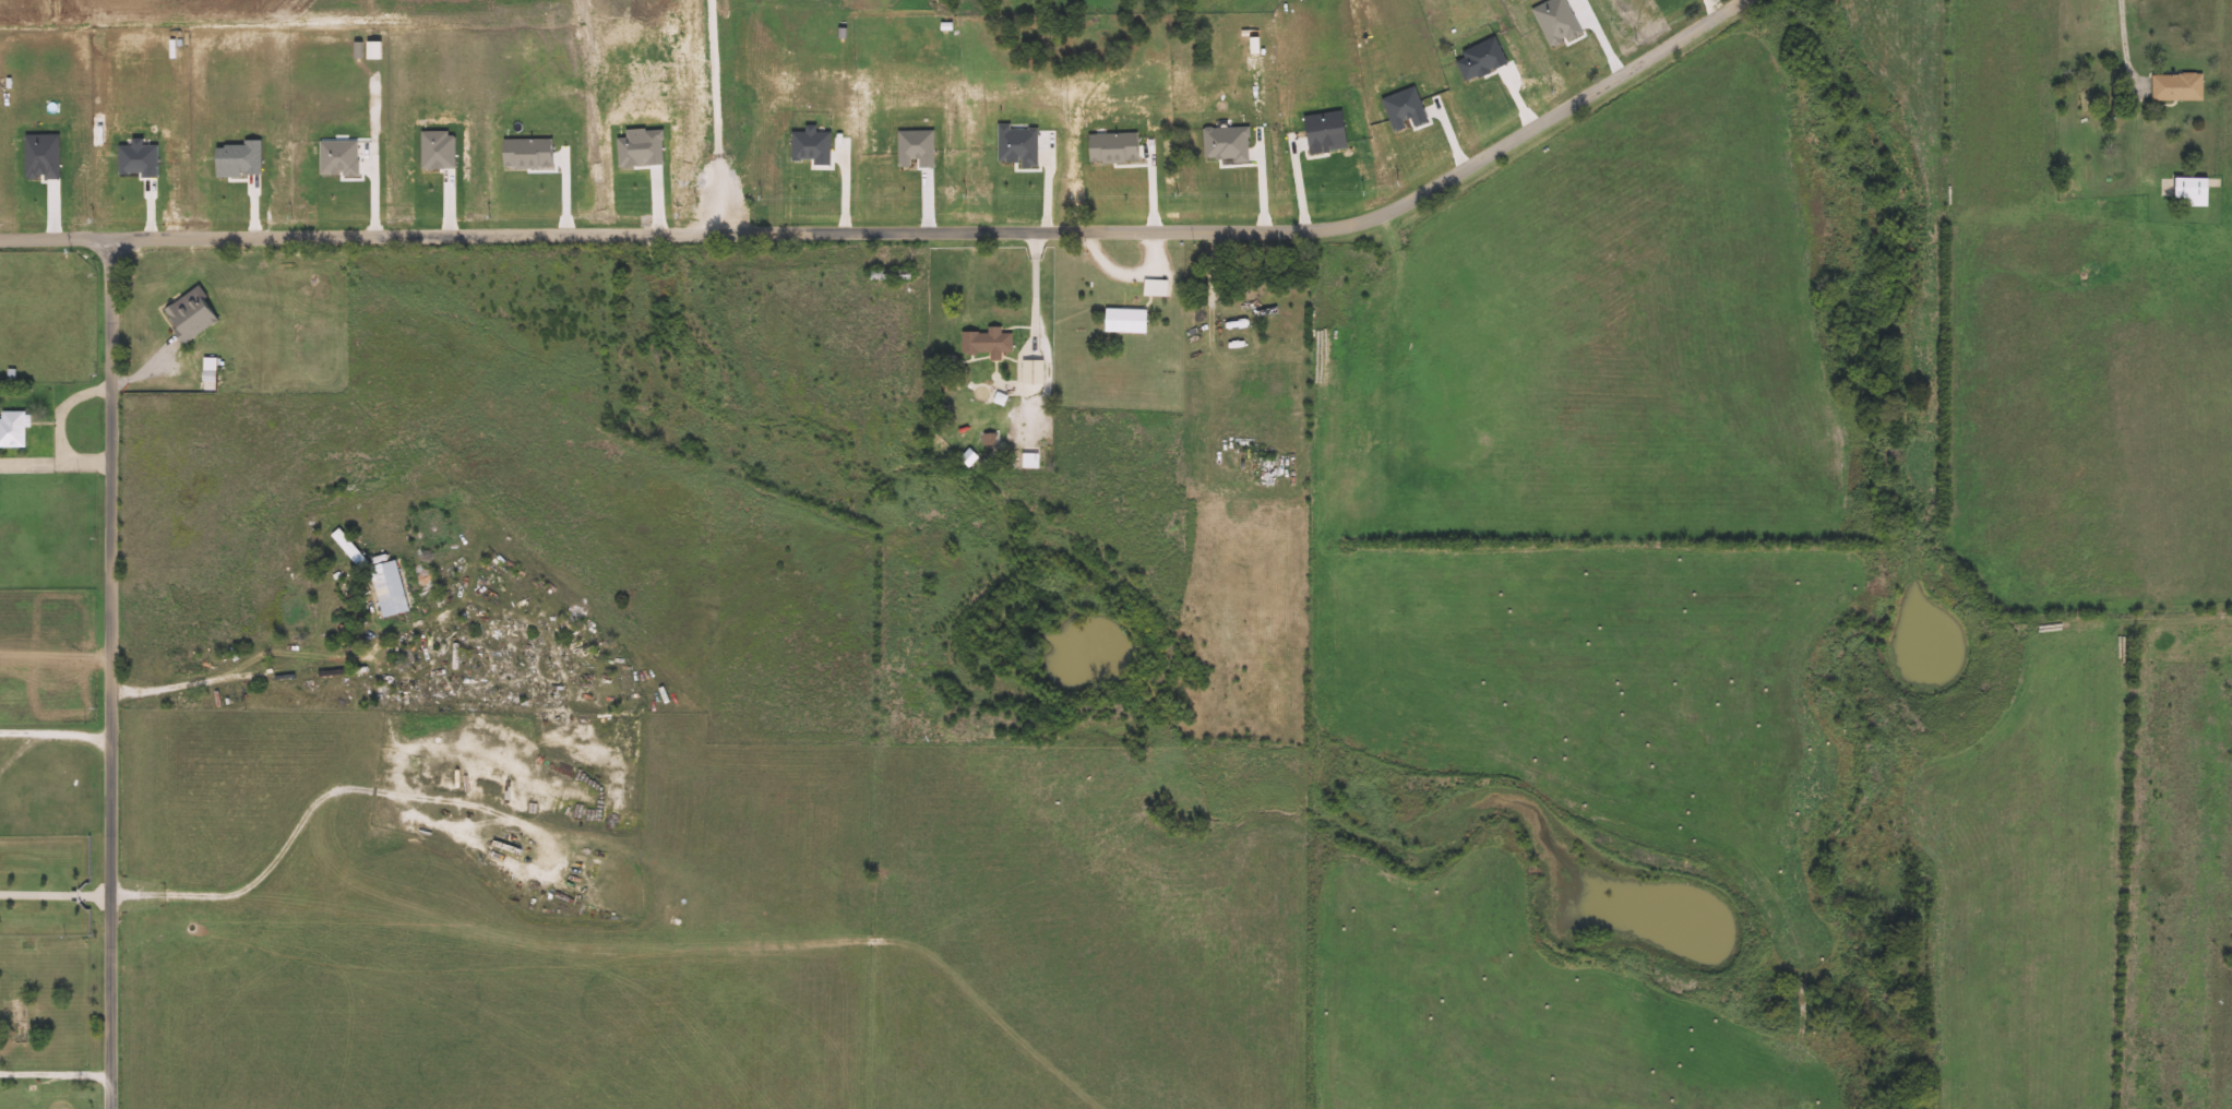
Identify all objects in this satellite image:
road: (2129, 38)
building: (2179, 86)
building: (2085, 102)
building: (1329, 132)
building: (1232, 144)
building: (1022, 146)
building: (1119, 147)
building: (2191, 184)
road: (908, 236)
building: (892, 275)
building: (1384, 284)
building: (1127, 321)
building: (193, 324)
road: (967, 327)
road: (59, 334)
building: (210, 370)
building: (944, 387)
road: (67, 410)
road: (984, 418)
building: (14, 429)
building: (998, 464)
road: (31, 466)
road: (89, 466)
building: (350, 548)
road: (252, 653)
road: (116, 673)
road: (58, 737)
road: (305, 819)
road: (449, 828)
road: (57, 898)
road: (58, 1072)

